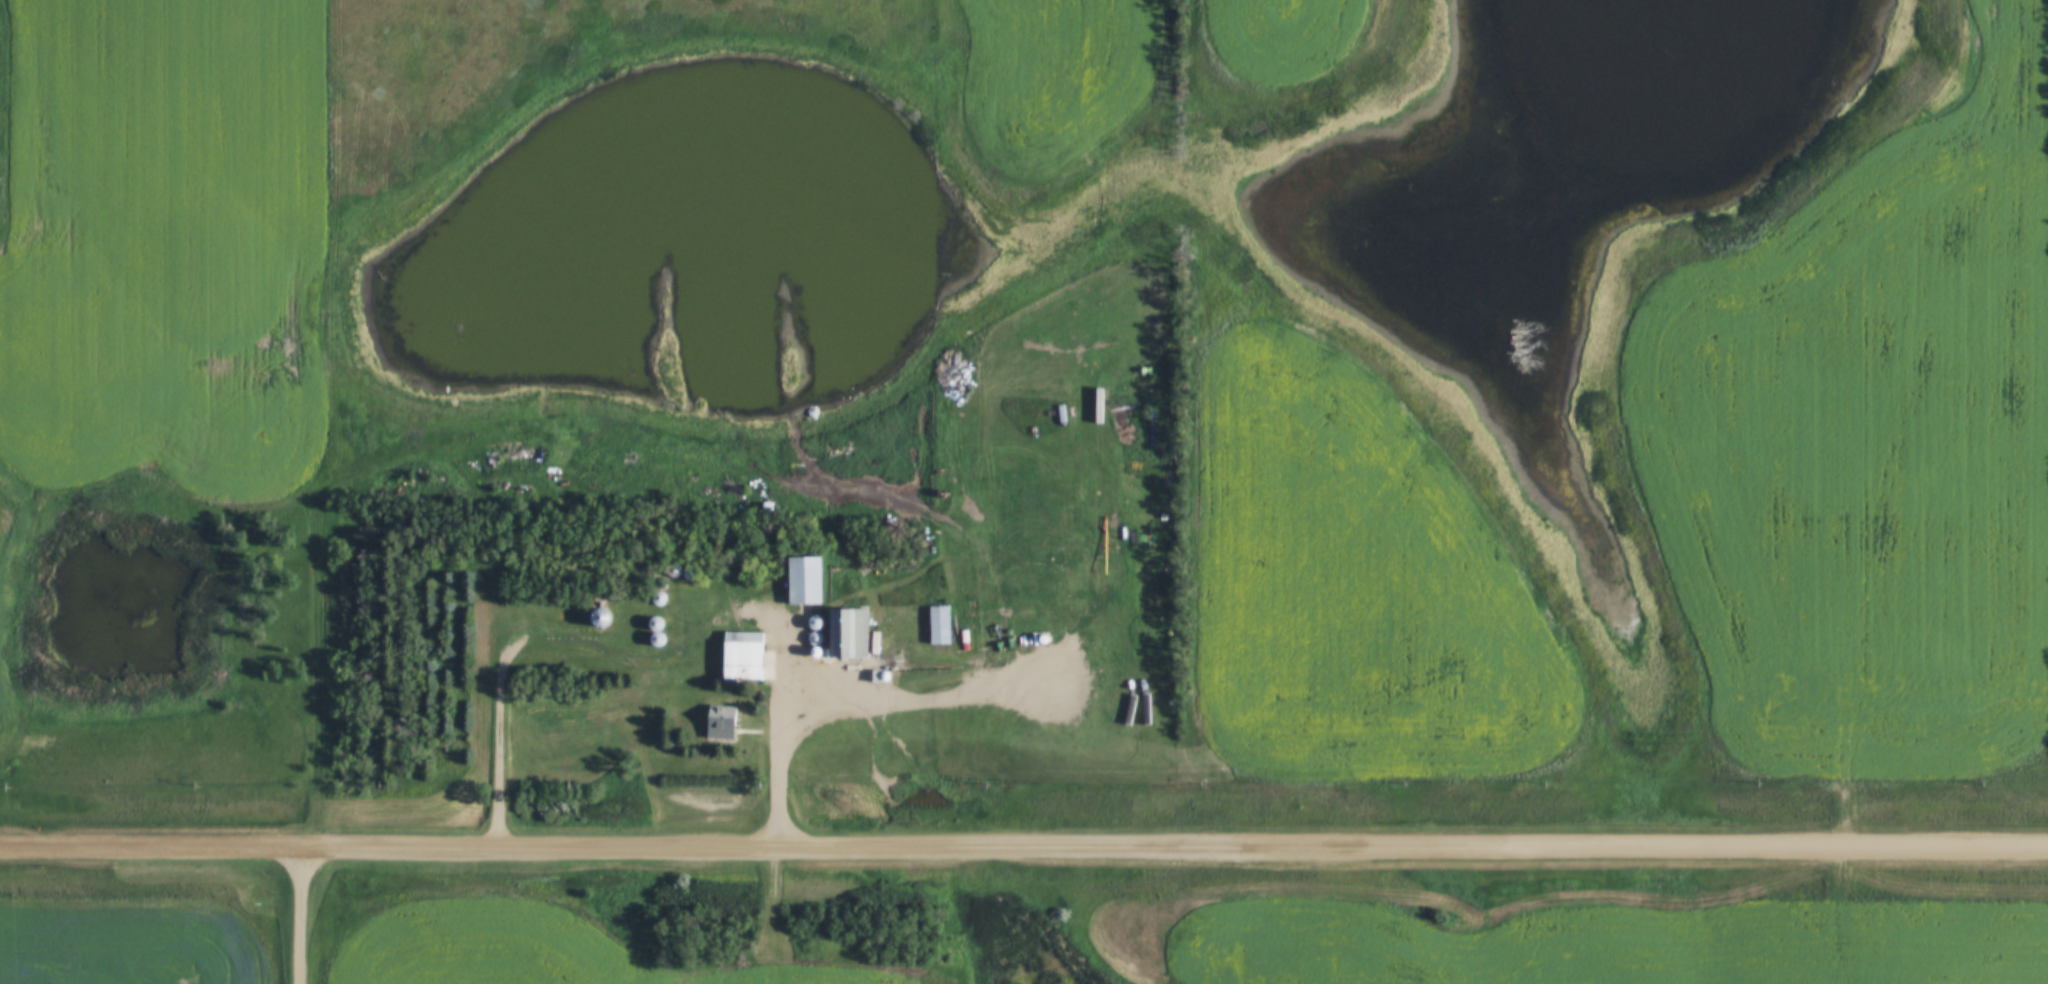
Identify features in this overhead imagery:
building: (808, 582)
building: (941, 607)
building: (746, 657)
road: (780, 771)
road: (1024, 849)
road: (302, 915)

